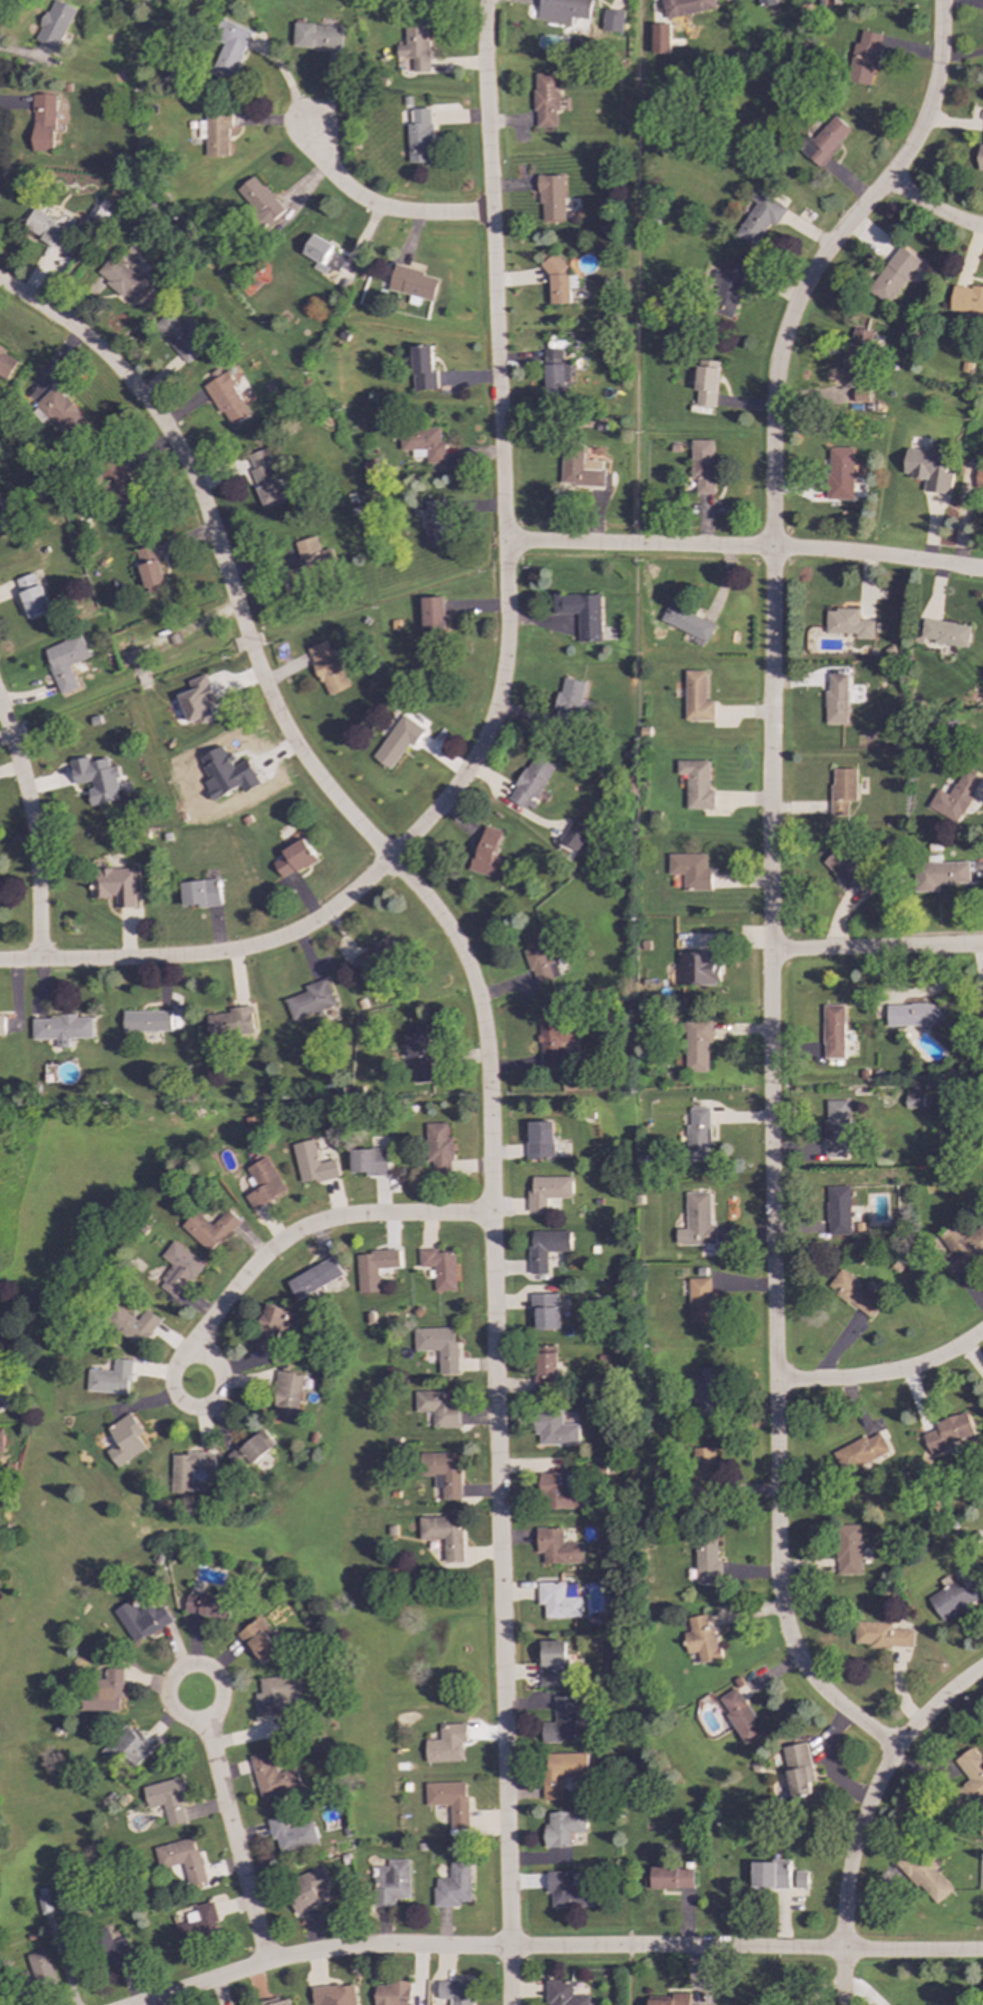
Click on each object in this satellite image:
building: (765, 3)
building: (684, 7)
building: (562, 10)
building: (612, 20)
building: (55, 24)
building: (317, 36)
building: (659, 38)
building: (414, 47)
building: (229, 50)
building: (864, 58)
road: (286, 81)
building: (546, 100)
building: (43, 122)
building: (215, 133)
building: (418, 135)
building: (824, 141)
building: (980, 158)
building: (551, 198)
building: (259, 200)
road: (380, 208)
road: (932, 210)
building: (100, 211)
building: (759, 218)
building: (45, 228)
building: (322, 255)
building: (892, 275)
building: (121, 279)
building: (558, 281)
building: (412, 283)
building: (726, 288)
building: (966, 300)
building: (180, 336)
building: (857, 346)
building: (5, 364)
building: (423, 369)
building: (555, 373)
building: (707, 383)
building: (860, 395)
building: (229, 398)
building: (61, 413)
building: (423, 443)
building: (702, 465)
building: (928, 468)
building: (580, 470)
building: (839, 474)
building: (978, 477)
building: (265, 478)
building: (118, 484)
building: (3, 519)
building: (434, 523)
road: (745, 548)
building: (309, 560)
building: (150, 569)
building: (31, 595)
building: (432, 615)
building: (584, 615)
building: (687, 622)
building: (847, 623)
building: (945, 633)
road: (505, 657)
building: (65, 661)
building: (327, 668)
building: (696, 697)
building: (835, 698)
building: (199, 700)
building: (568, 701)
building: (397, 741)
building: (227, 773)
building: (97, 778)
building: (530, 783)
building: (696, 784)
building: (841, 790)
building: (954, 797)
road: (33, 833)
building: (573, 835)
building: (489, 855)
building: (293, 859)
building: (691, 870)
building: (848, 870)
road: (770, 874)
building: (938, 874)
building: (114, 885)
building: (200, 893)
road: (877, 948)
building: (373, 955)
building: (538, 955)
building: (698, 968)
building: (311, 1000)
building: (914, 1015)
building: (981, 1019)
building: (147, 1021)
building: (231, 1023)
building: (2, 1027)
building: (61, 1029)
building: (833, 1032)
building: (553, 1042)
building: (697, 1046)
building: (419, 1053)
road: (486, 1060)
building: (914, 1098)
building: (836, 1128)
building: (698, 1134)
building: (540, 1140)
building: (439, 1148)
building: (370, 1162)
building: (313, 1164)
building: (264, 1183)
building: (547, 1191)
building: (837, 1210)
building: (696, 1221)
road: (313, 1226)
building: (210, 1229)
building: (546, 1248)
building: (960, 1248)
building: (374, 1268)
building: (440, 1268)
building: (179, 1269)
building: (315, 1278)
building: (854, 1293)
building: (700, 1301)
building: (544, 1311)
building: (134, 1326)
building: (271, 1328)
building: (439, 1346)
building: (546, 1369)
road: (884, 1373)
building: (111, 1378)
building: (705, 1392)
building: (287, 1397)
road: (178, 1399)
building: (1, 1405)
building: (439, 1407)
building: (553, 1429)
building: (948, 1432)
building: (124, 1440)
building: (0, 1442)
building: (250, 1449)
building: (859, 1452)
building: (188, 1469)
building: (443, 1472)
building: (703, 1472)
building: (557, 1493)
building: (444, 1535)
building: (556, 1547)
building: (847, 1549)
building: (707, 1561)
building: (954, 1597)
building: (556, 1601)
building: (207, 1605)
building: (140, 1620)
building: (882, 1635)
building: (701, 1640)
building: (258, 1641)
building: (553, 1664)
road: (202, 1669)
building: (102, 1692)
building: (278, 1695)
building: (739, 1716)
building: (560, 1721)
building: (447, 1744)
building: (127, 1747)
building: (798, 1769)
building: (560, 1771)
building: (272, 1776)
building: (969, 1780)
road: (874, 1789)
building: (166, 1800)
building: (450, 1801)
building: (563, 1828)
building: (291, 1834)
road: (234, 1843)
building: (181, 1859)
building: (770, 1874)
building: (922, 1875)
building: (668, 1878)
building: (800, 1879)
building: (392, 1883)
building: (453, 1886)
building: (306, 1889)
building: (566, 1890)
building: (198, 1925)
road: (557, 1948)
building: (112, 1950)
building: (40, 1967)
road: (842, 1978)
building: (456, 1991)
building: (393, 1993)
building: (562, 1994)
building: (334, 1995)
building: (672, 2000)
building: (276, 2002)

